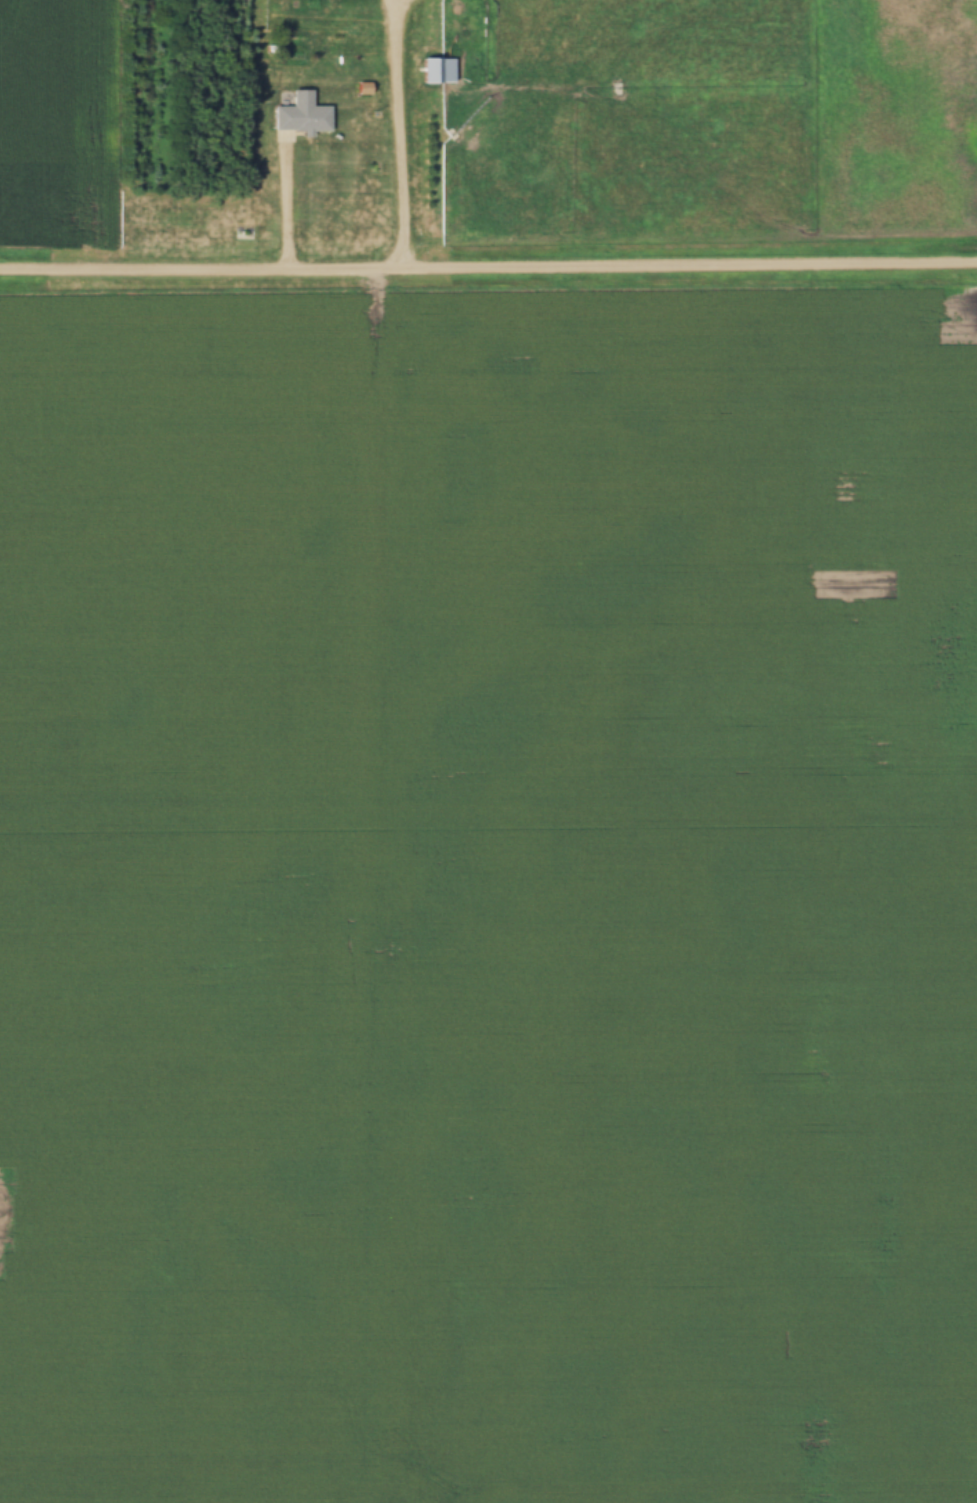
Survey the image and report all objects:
building: (436, 70)
building: (300, 117)
road: (488, 269)

